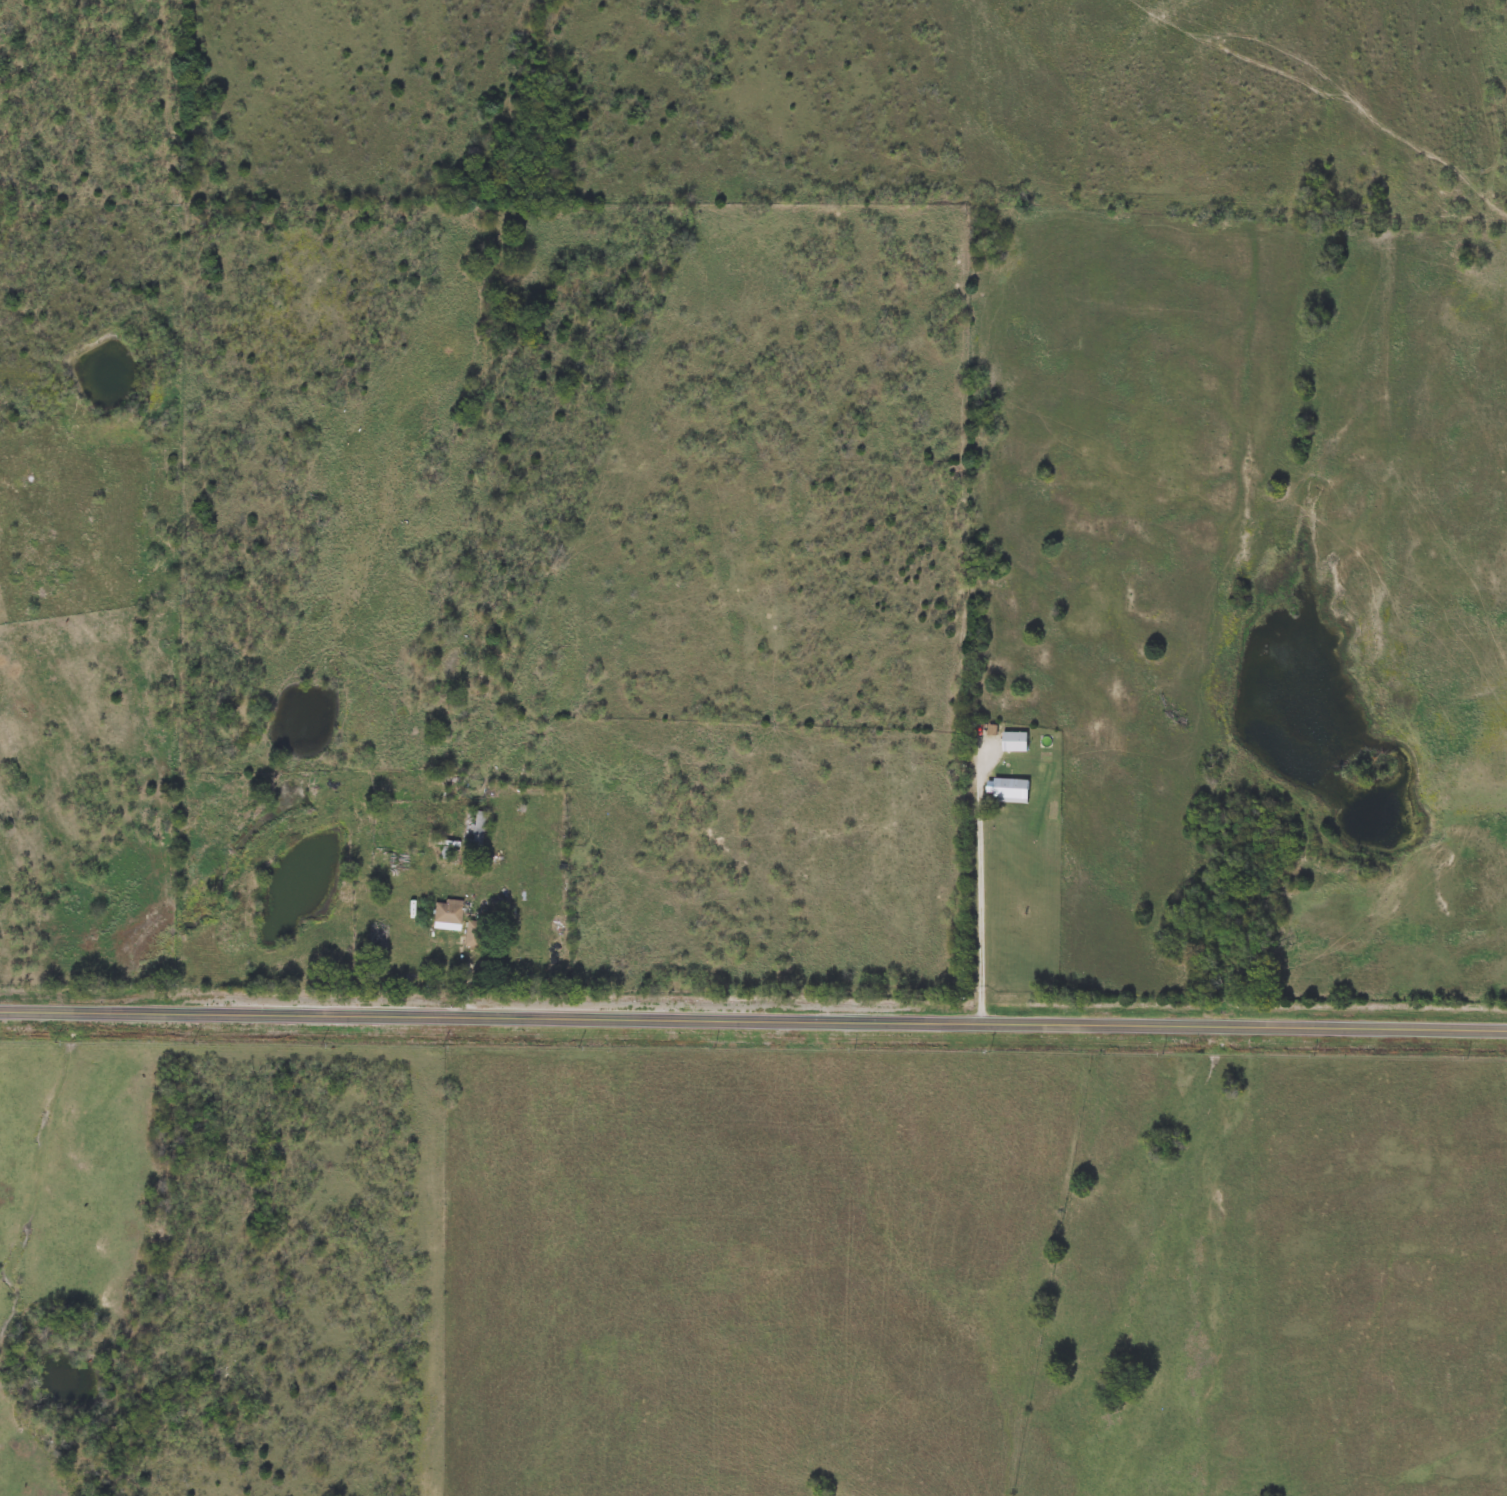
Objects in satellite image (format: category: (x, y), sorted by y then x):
building: (1016, 741)
building: (449, 775)
building: (1011, 789)
building: (475, 830)
road: (985, 886)
building: (446, 912)
building: (471, 933)
road: (362, 963)
road: (470, 989)
road: (753, 1016)

